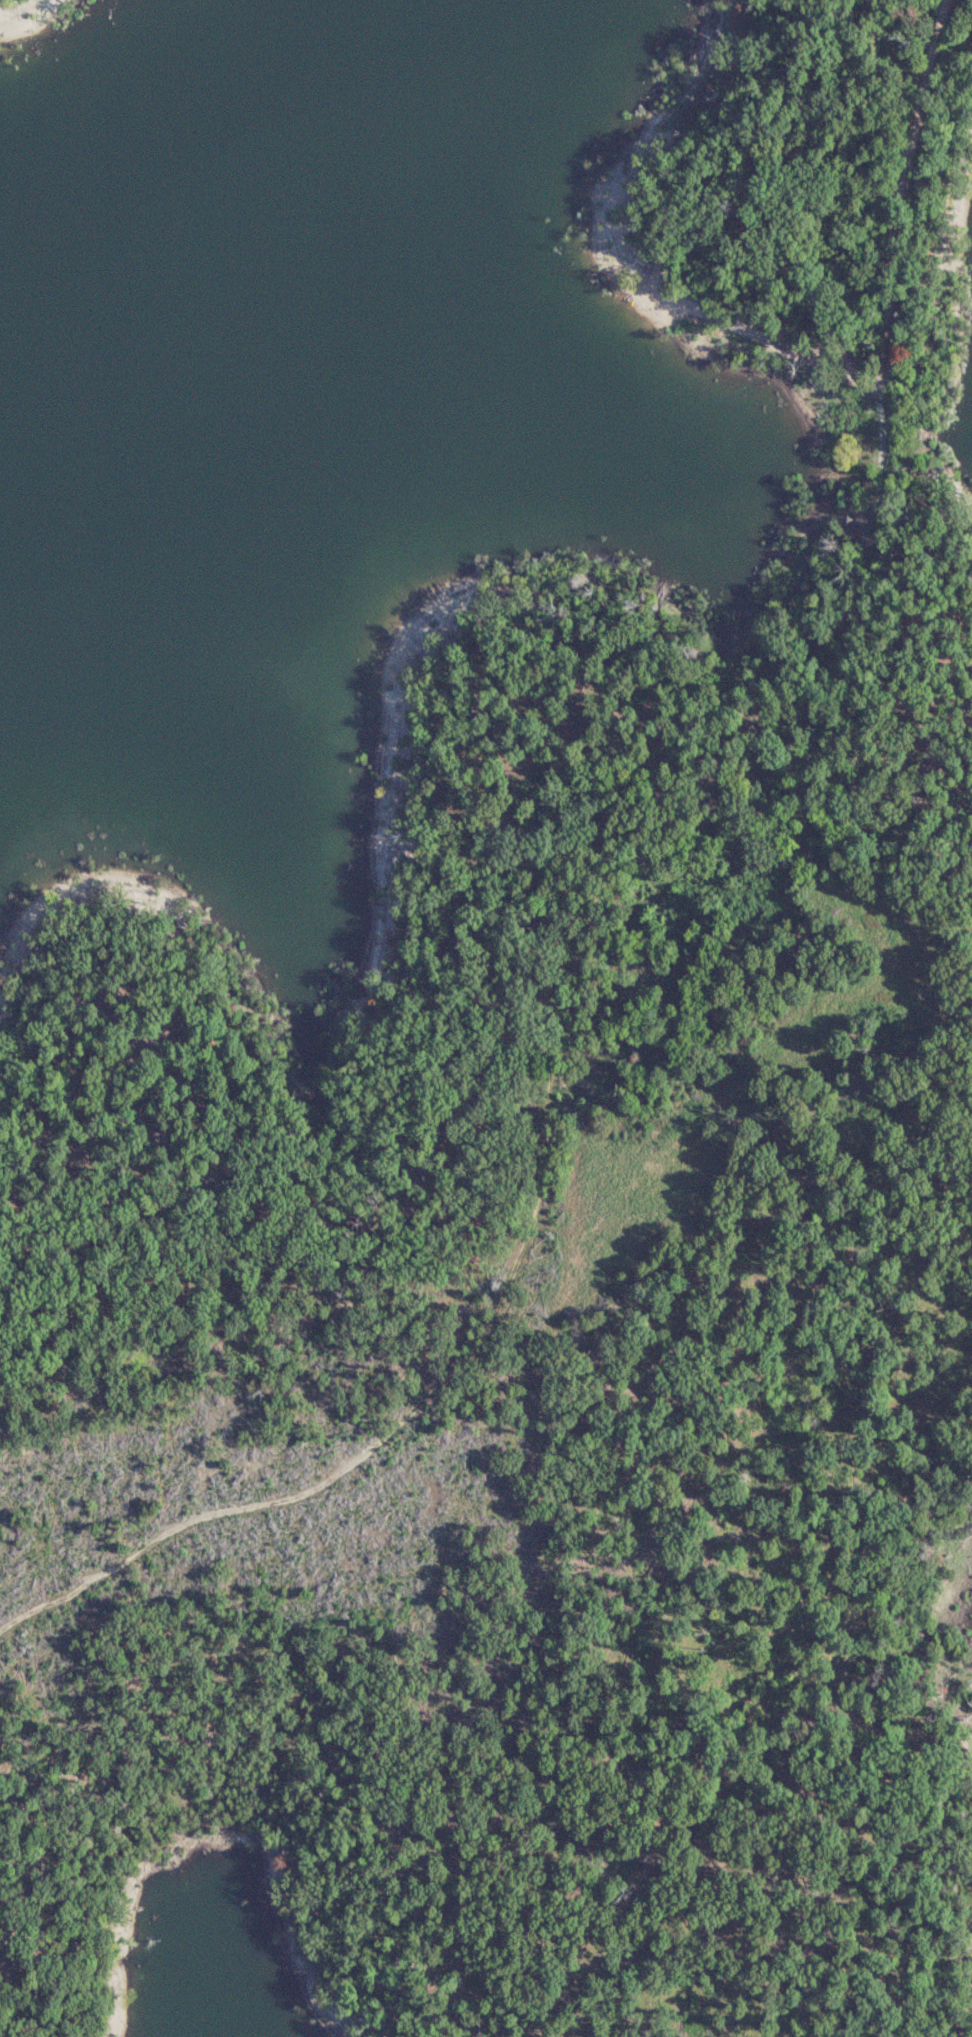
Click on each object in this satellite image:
road: (890, 218)
road: (627, 315)
road: (772, 352)

